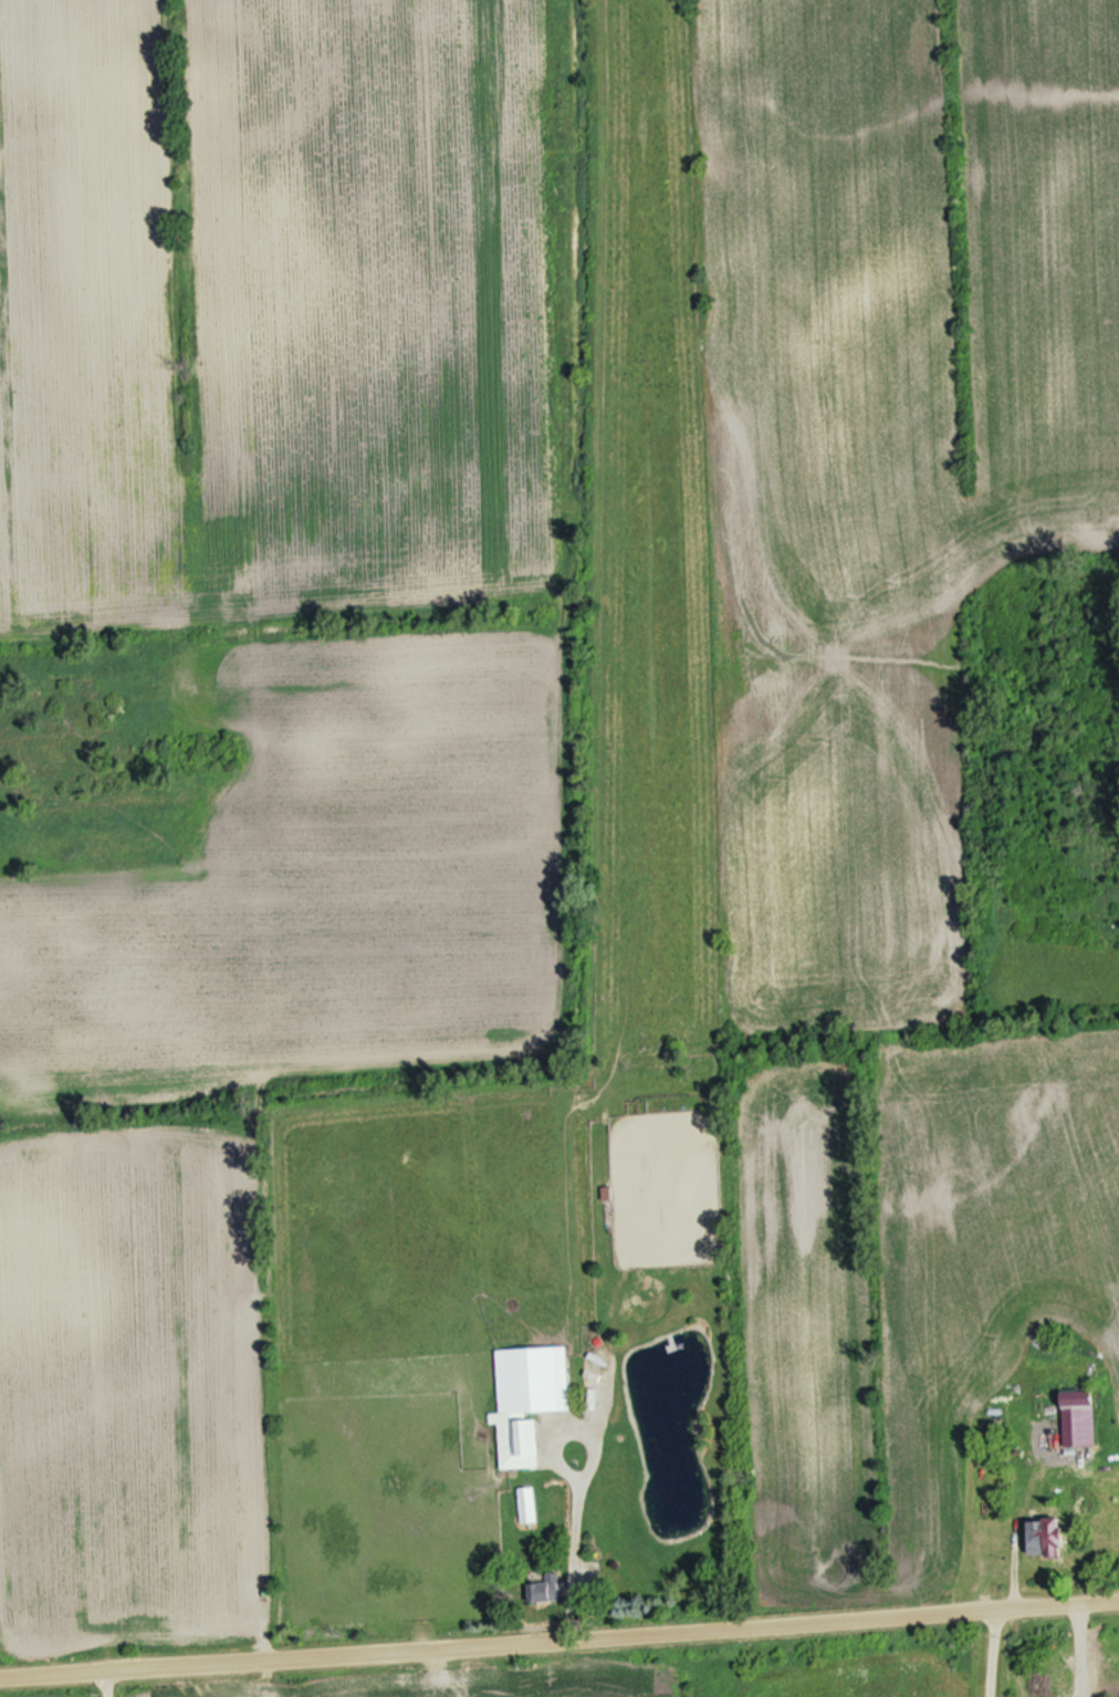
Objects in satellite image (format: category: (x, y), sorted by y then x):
building: (525, 1398)
building: (1078, 1422)
road: (578, 1491)
building: (1037, 1540)
building: (542, 1586)
road: (559, 1639)
road: (991, 1652)
road: (115, 1683)

